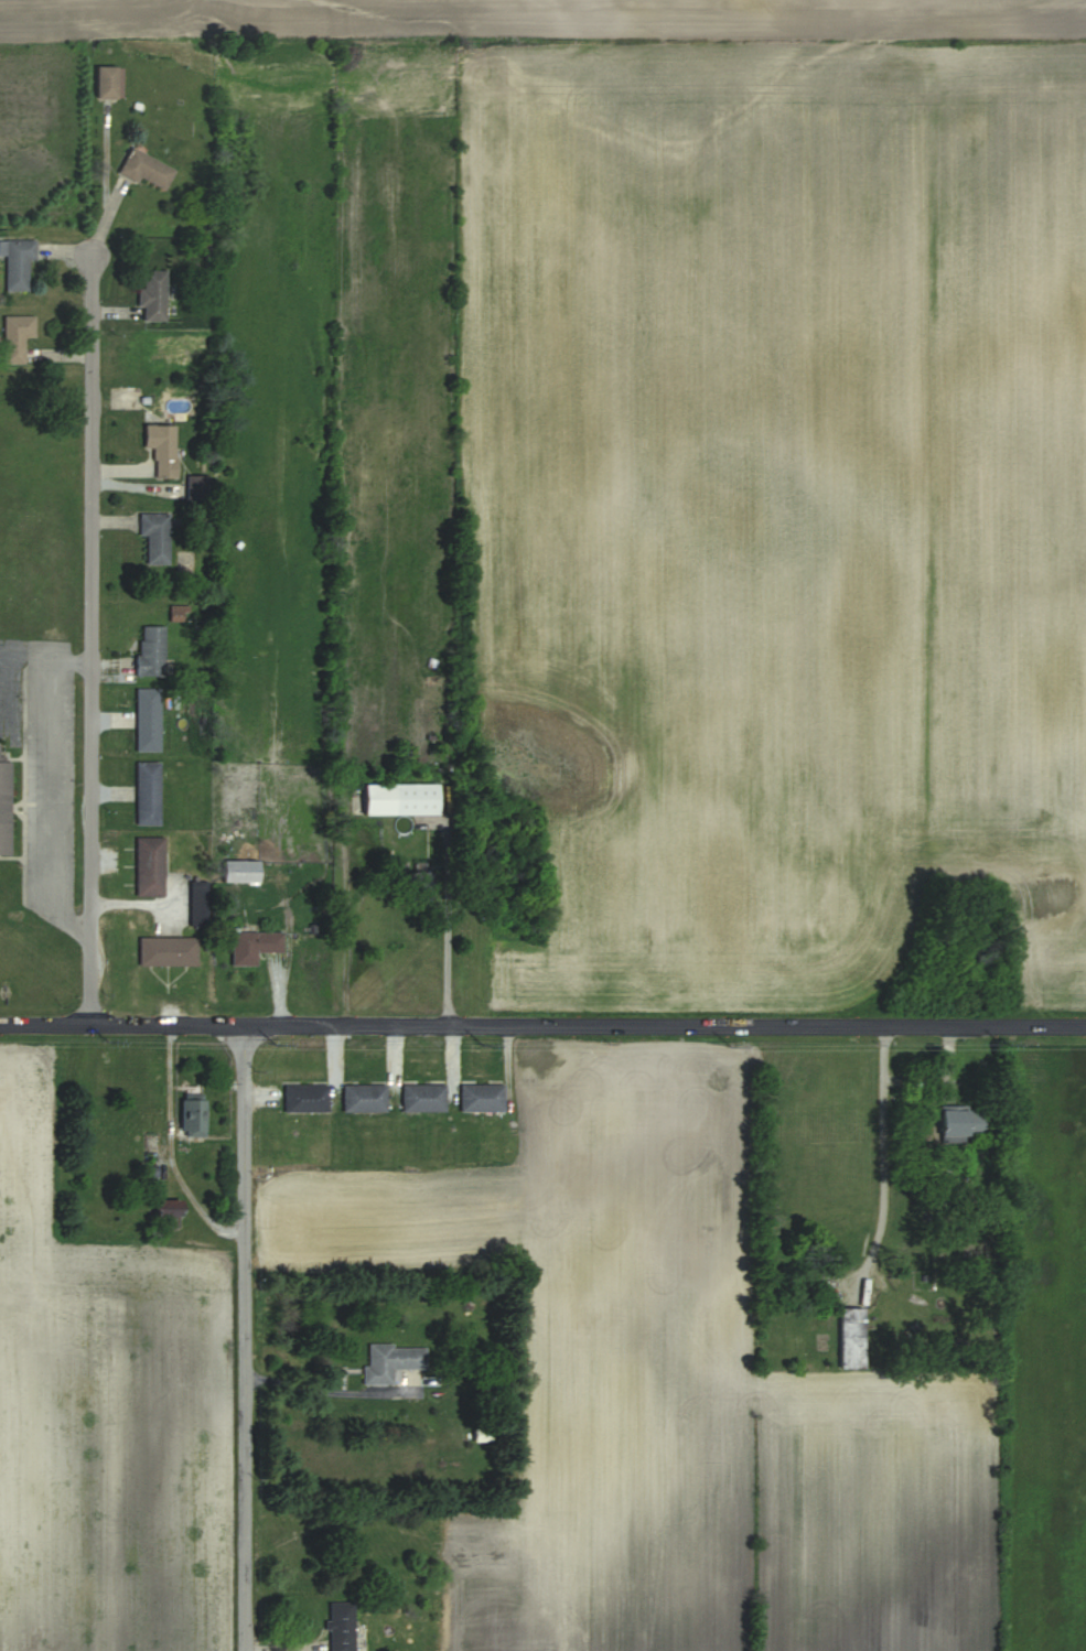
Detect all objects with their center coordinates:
building: (107, 83)
building: (149, 170)
building: (18, 263)
building: (154, 295)
building: (17, 337)
building: (163, 449)
building: (198, 488)
building: (155, 537)
road: (93, 638)
building: (151, 649)
building: (148, 719)
building: (148, 794)
building: (402, 798)
building: (6, 806)
building: (150, 866)
building: (241, 870)
building: (420, 886)
building: (198, 903)
road: (447, 927)
building: (255, 945)
building: (169, 950)
road: (542, 1024)
building: (307, 1098)
building: (365, 1098)
building: (424, 1098)
building: (482, 1098)
building: (194, 1118)
building: (963, 1122)
road: (170, 1147)
road: (882, 1163)
building: (170, 1208)
road: (245, 1337)
building: (852, 1337)
building: (391, 1360)
road: (327, 1389)
building: (342, 1626)

